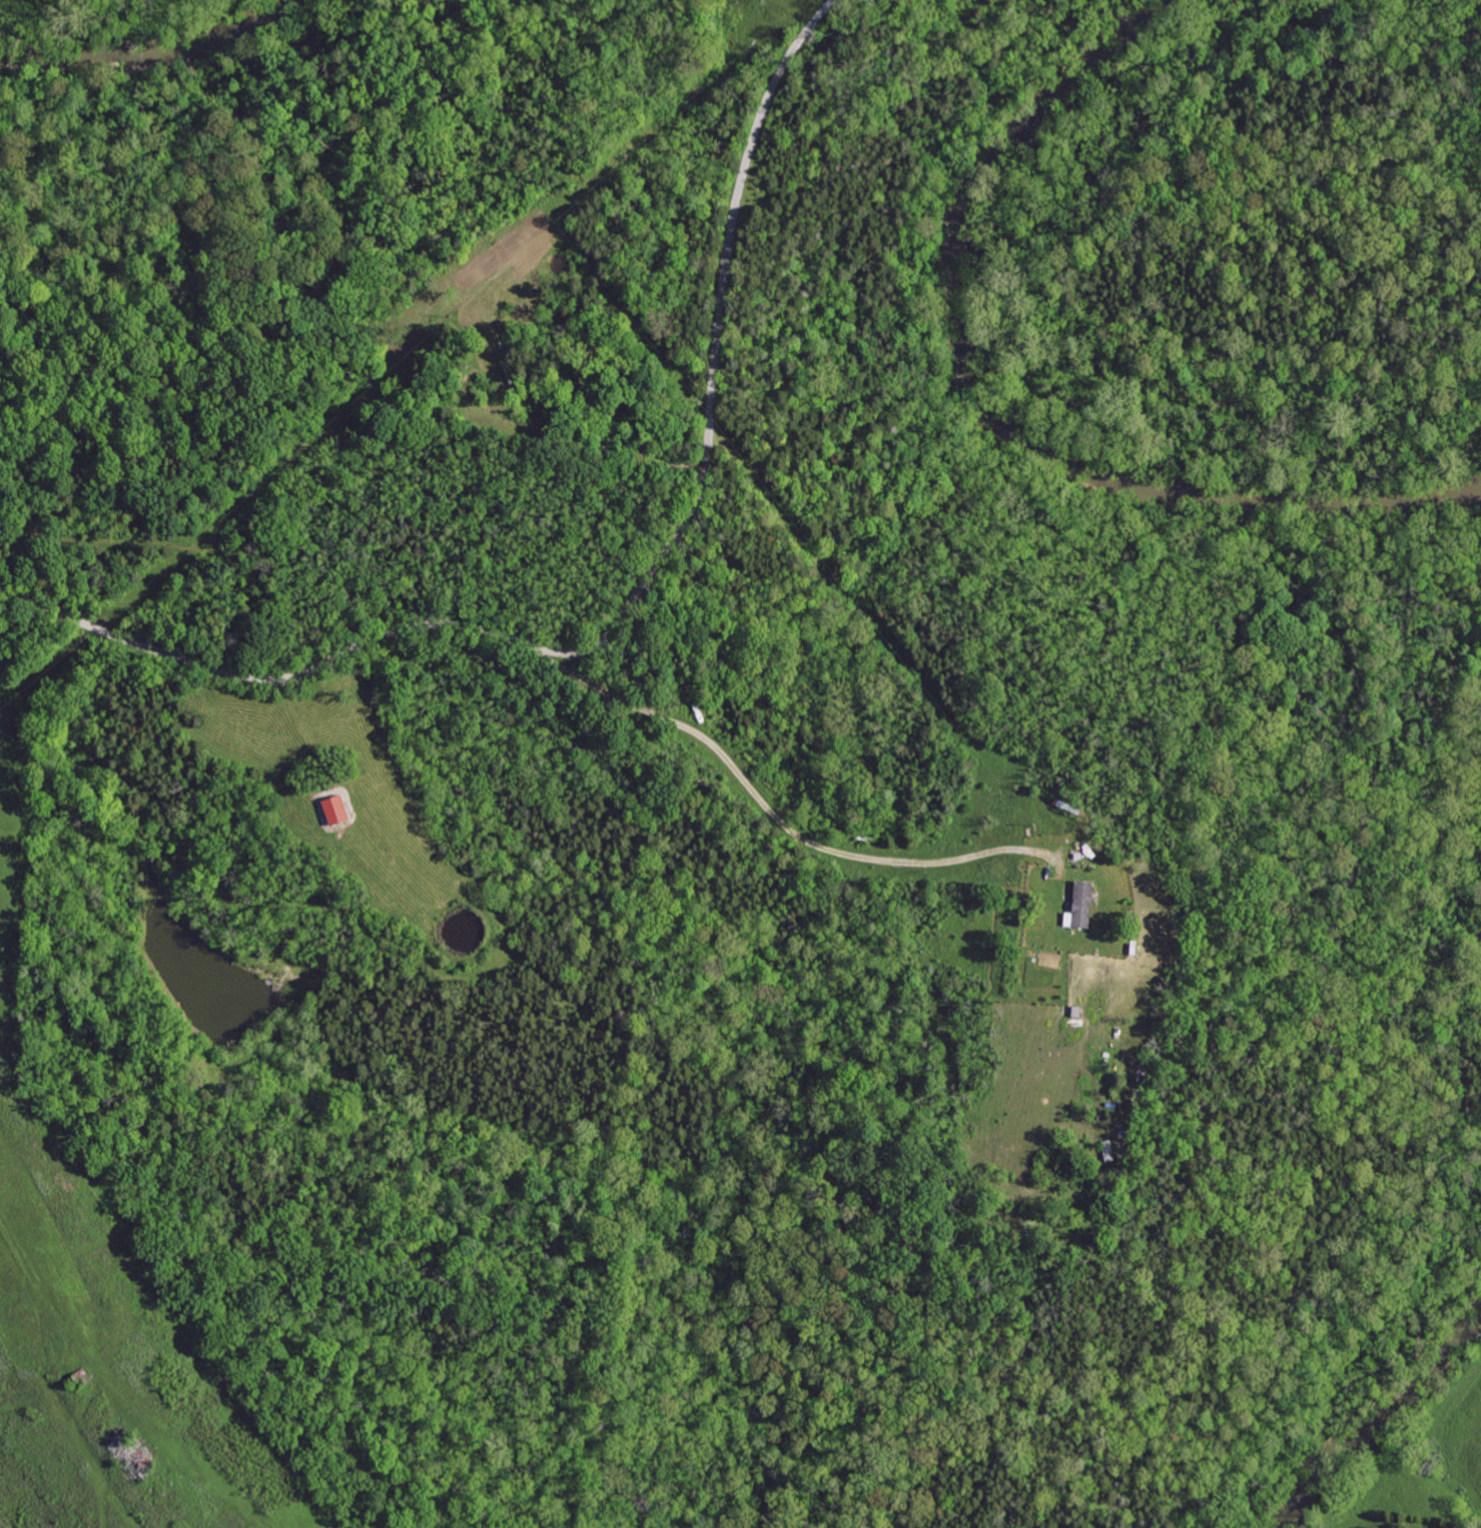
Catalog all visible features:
road: (826, 5)
road: (717, 340)
road: (354, 647)
road: (712, 712)
building: (340, 809)
building: (1084, 906)

